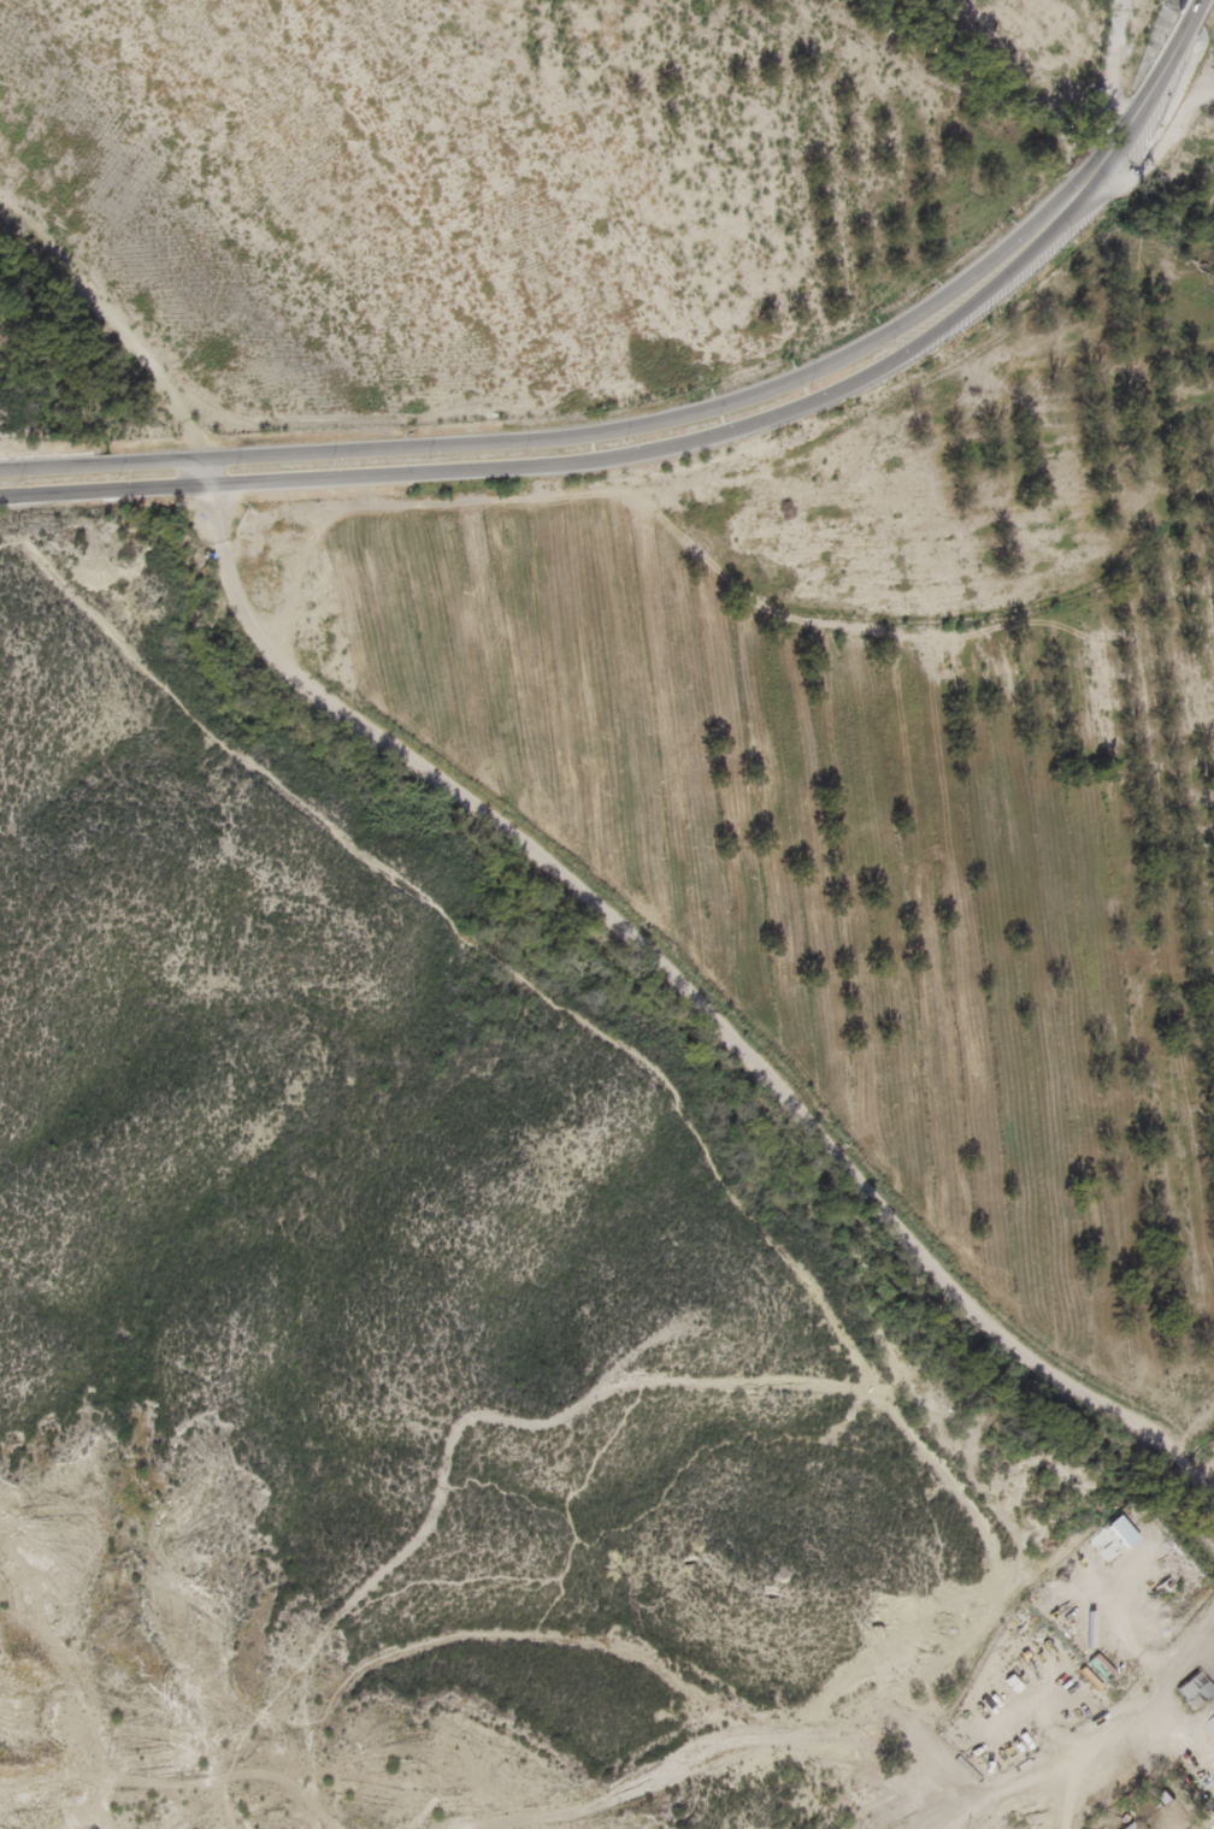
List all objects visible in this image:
road: (1148, 146)

